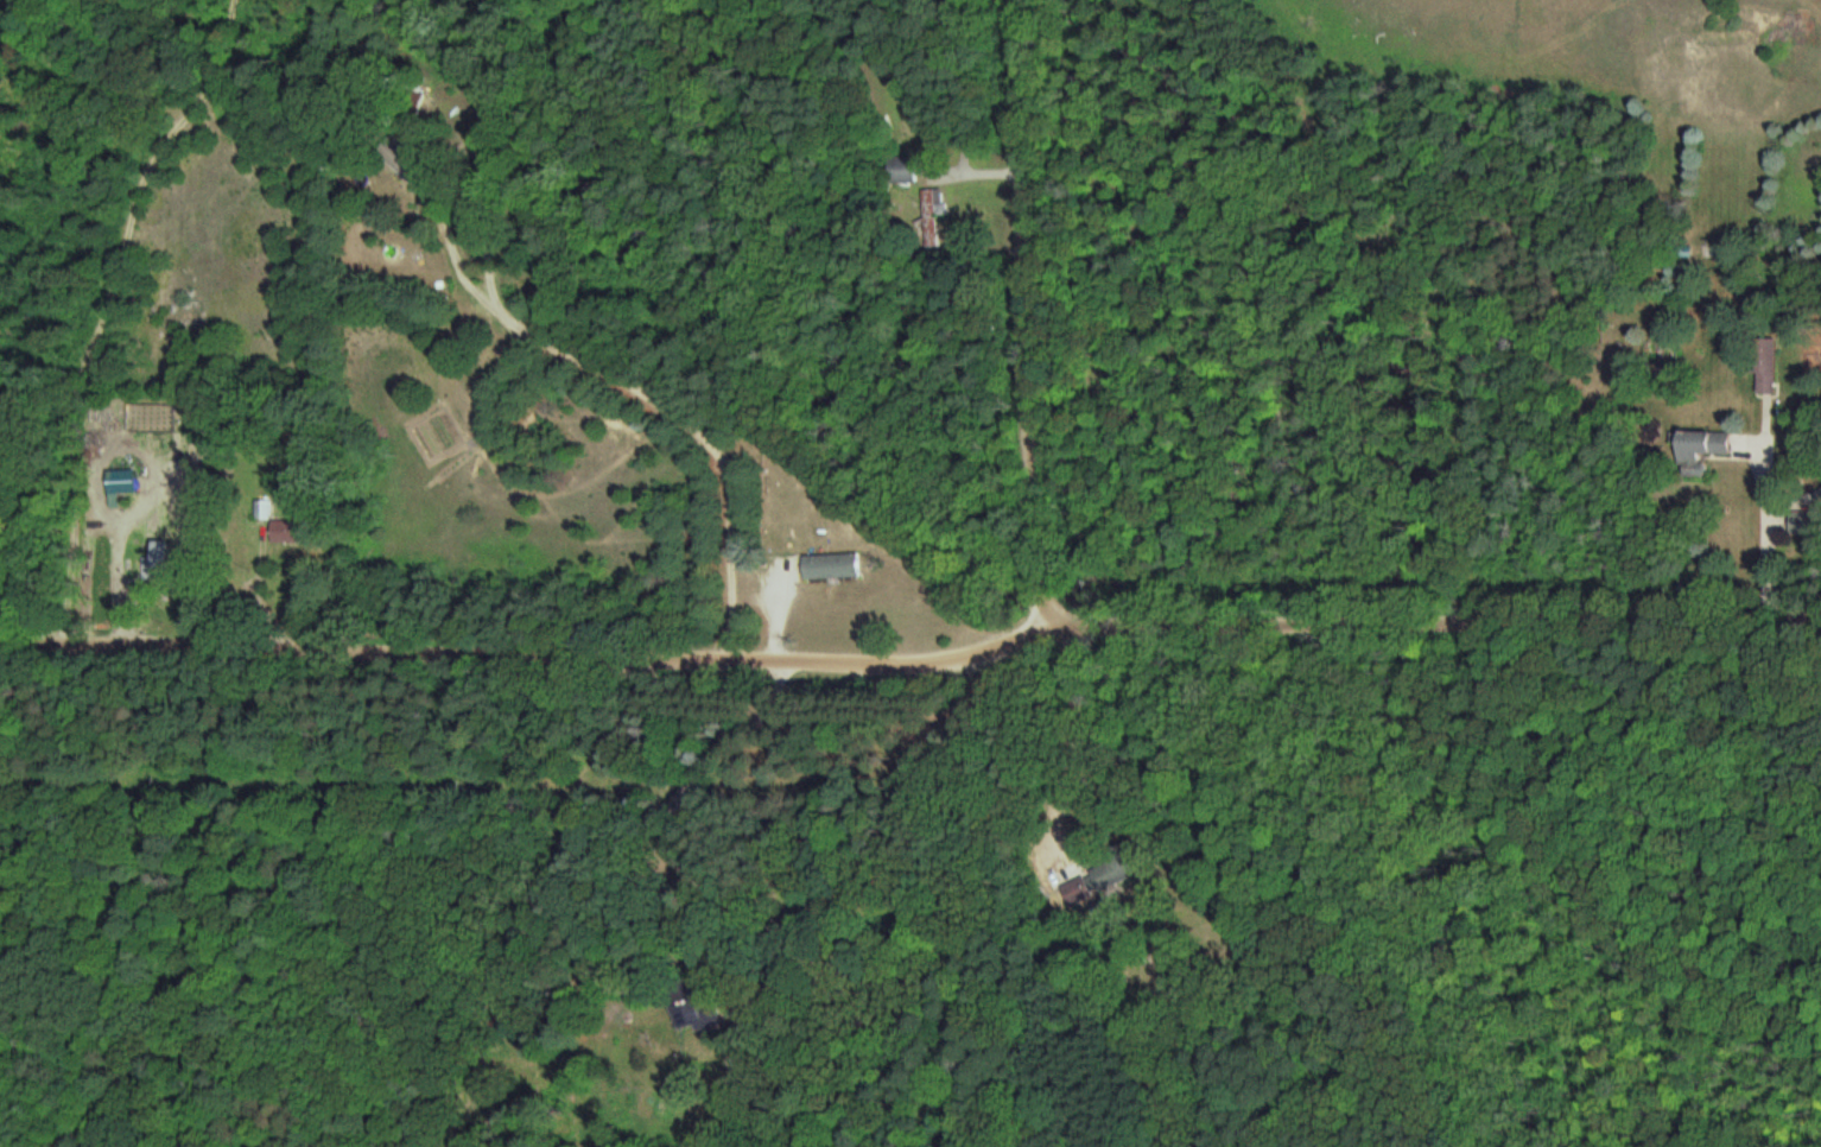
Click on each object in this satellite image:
building: (902, 170)
building: (928, 220)
road: (1026, 312)
road: (87, 351)
building: (1764, 365)
building: (1701, 446)
building: (262, 509)
building: (1800, 524)
building: (287, 531)
road: (794, 549)
building: (831, 566)
road: (1429, 623)
road: (522, 652)
road: (1070, 742)
road: (787, 812)
building: (1103, 879)
building: (694, 1009)

